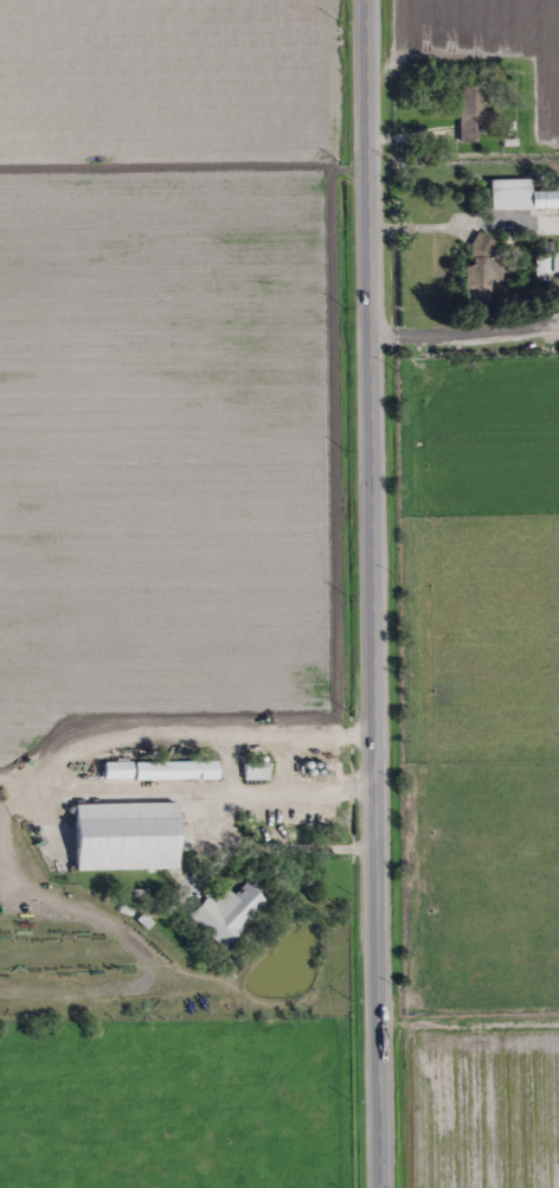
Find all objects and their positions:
building: (471, 111)
building: (522, 196)
building: (482, 270)
building: (545, 275)
road: (372, 593)
building: (175, 771)
building: (256, 771)
building: (124, 837)
building: (229, 913)

